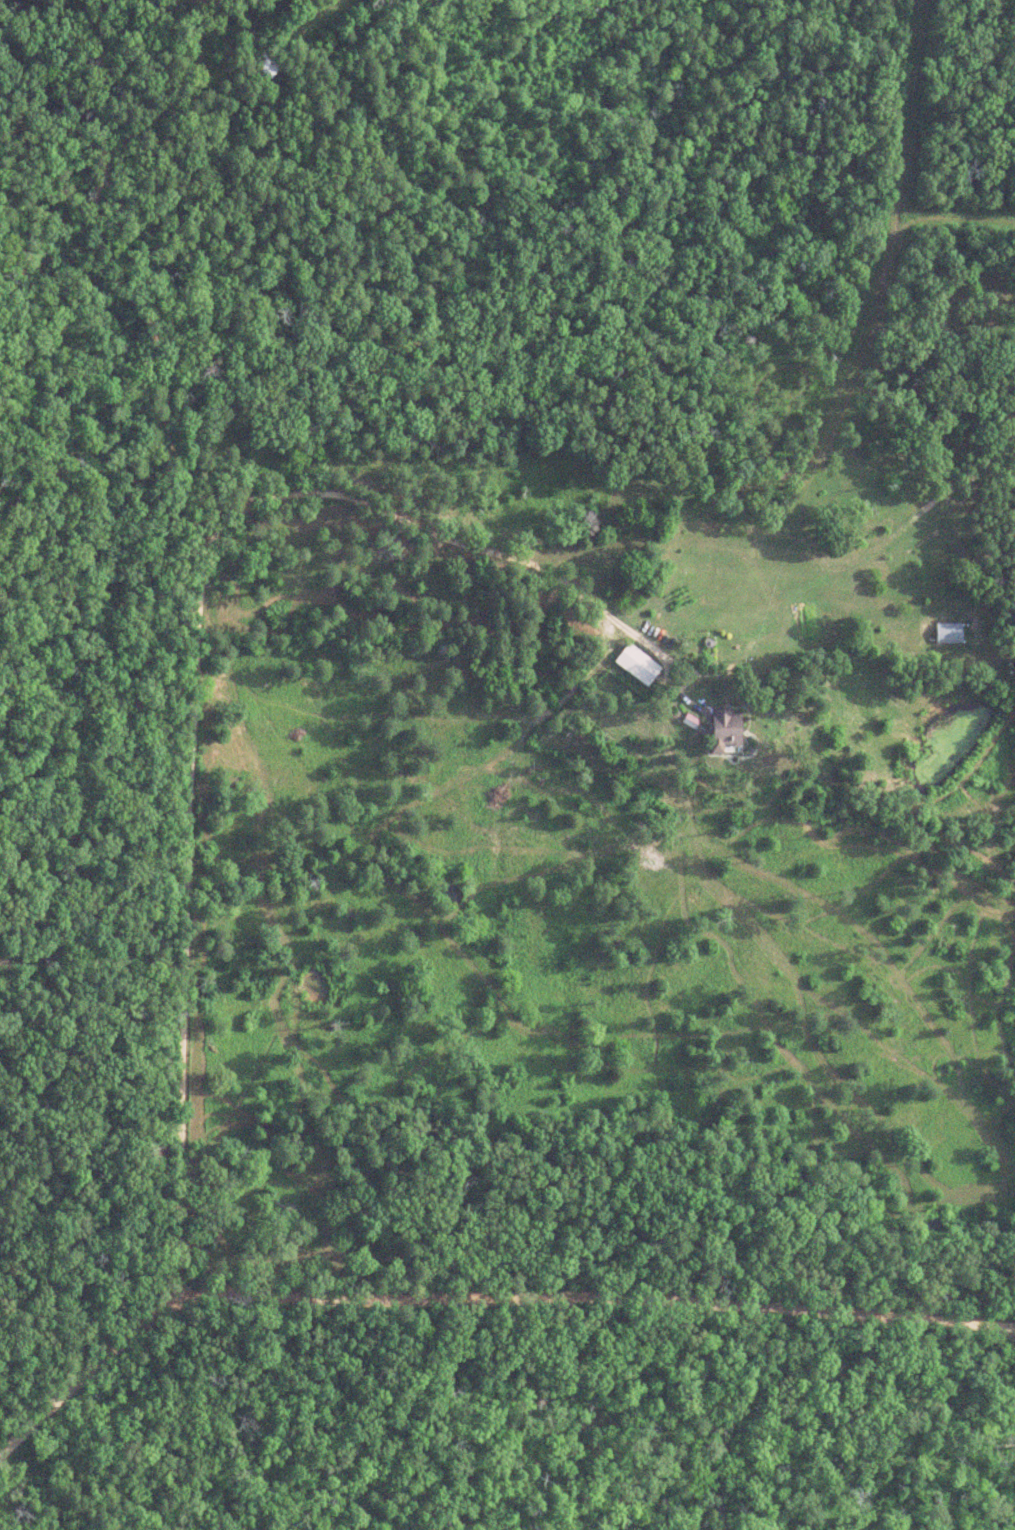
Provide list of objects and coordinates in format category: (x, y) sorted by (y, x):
road: (325, 121)
road: (193, 643)
building: (640, 662)
building: (727, 727)
road: (476, 1303)

